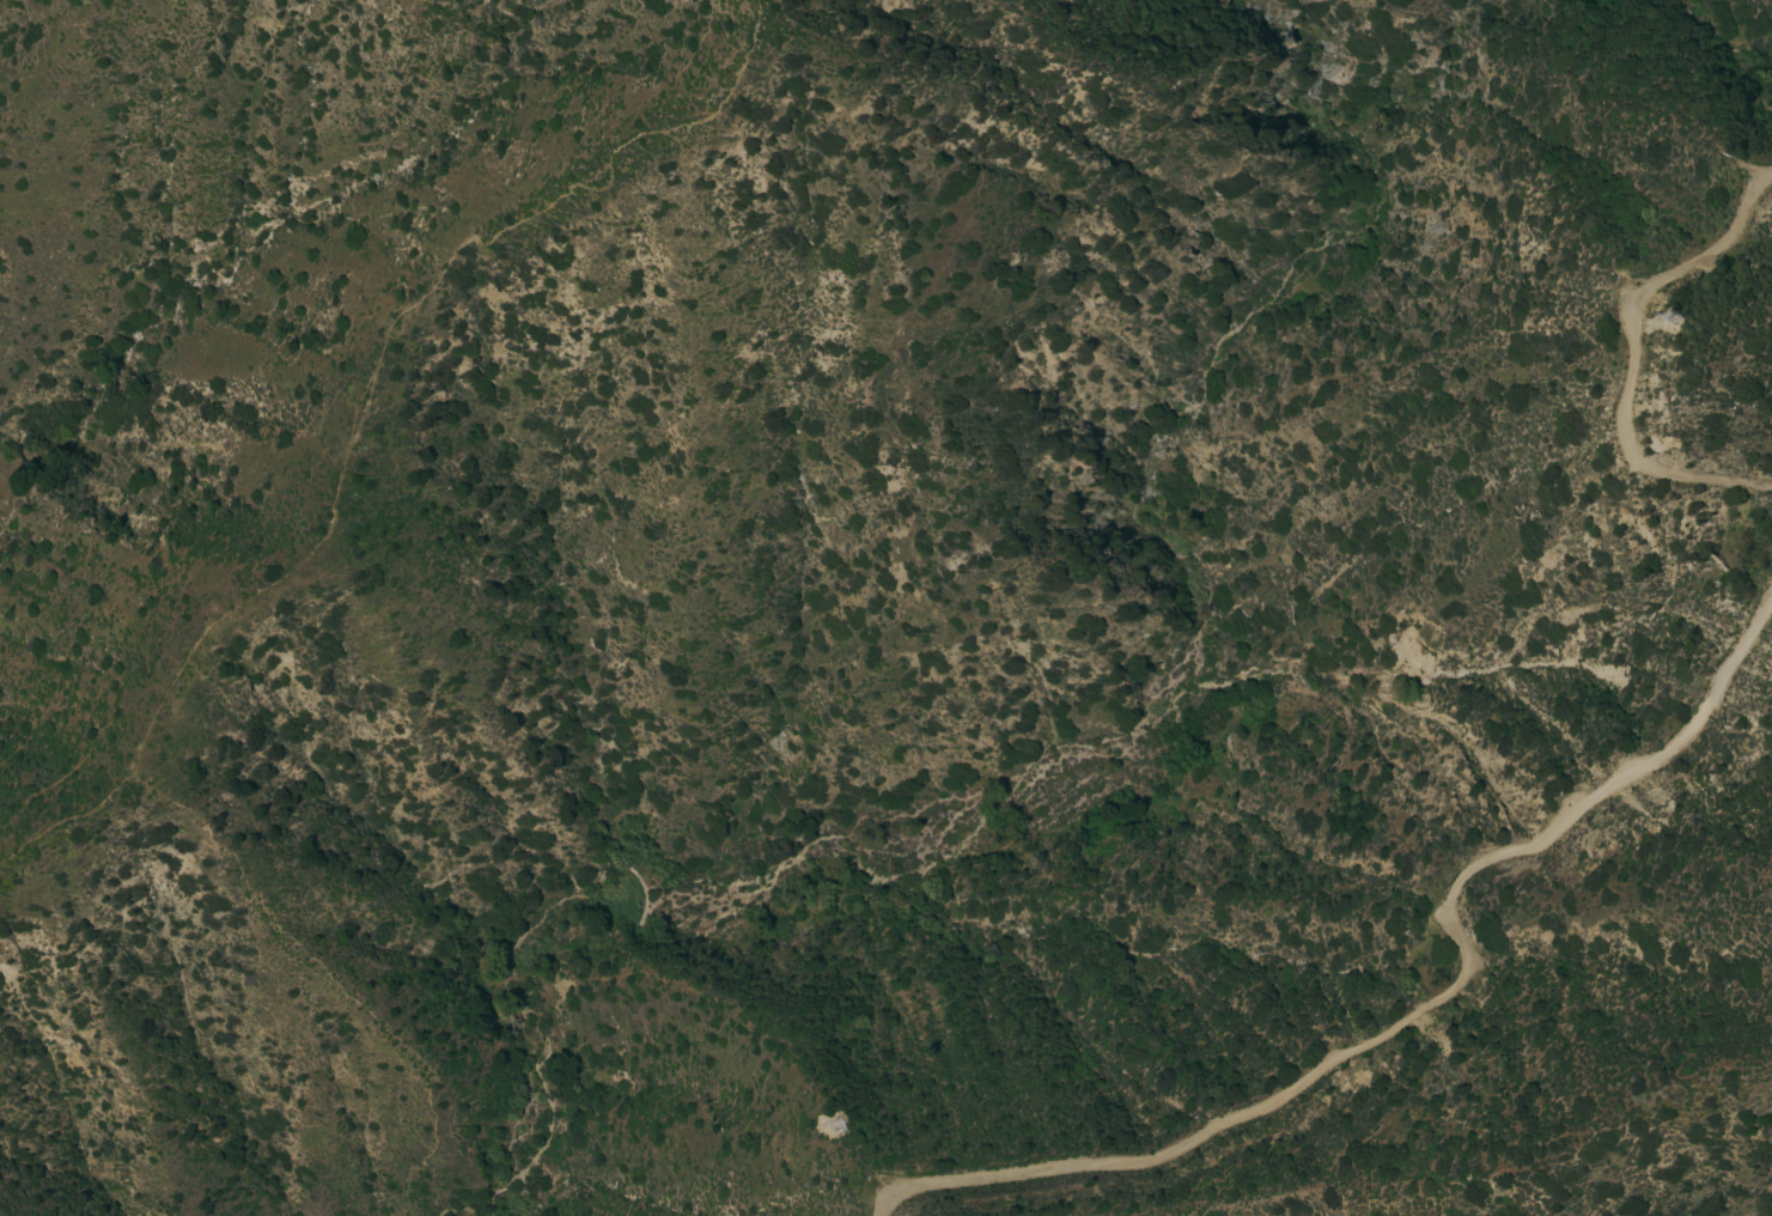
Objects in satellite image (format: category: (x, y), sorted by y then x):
power tower: (1679, 315)
road: (1627, 351)
road: (1423, 1008)
power tower: (844, 1123)

